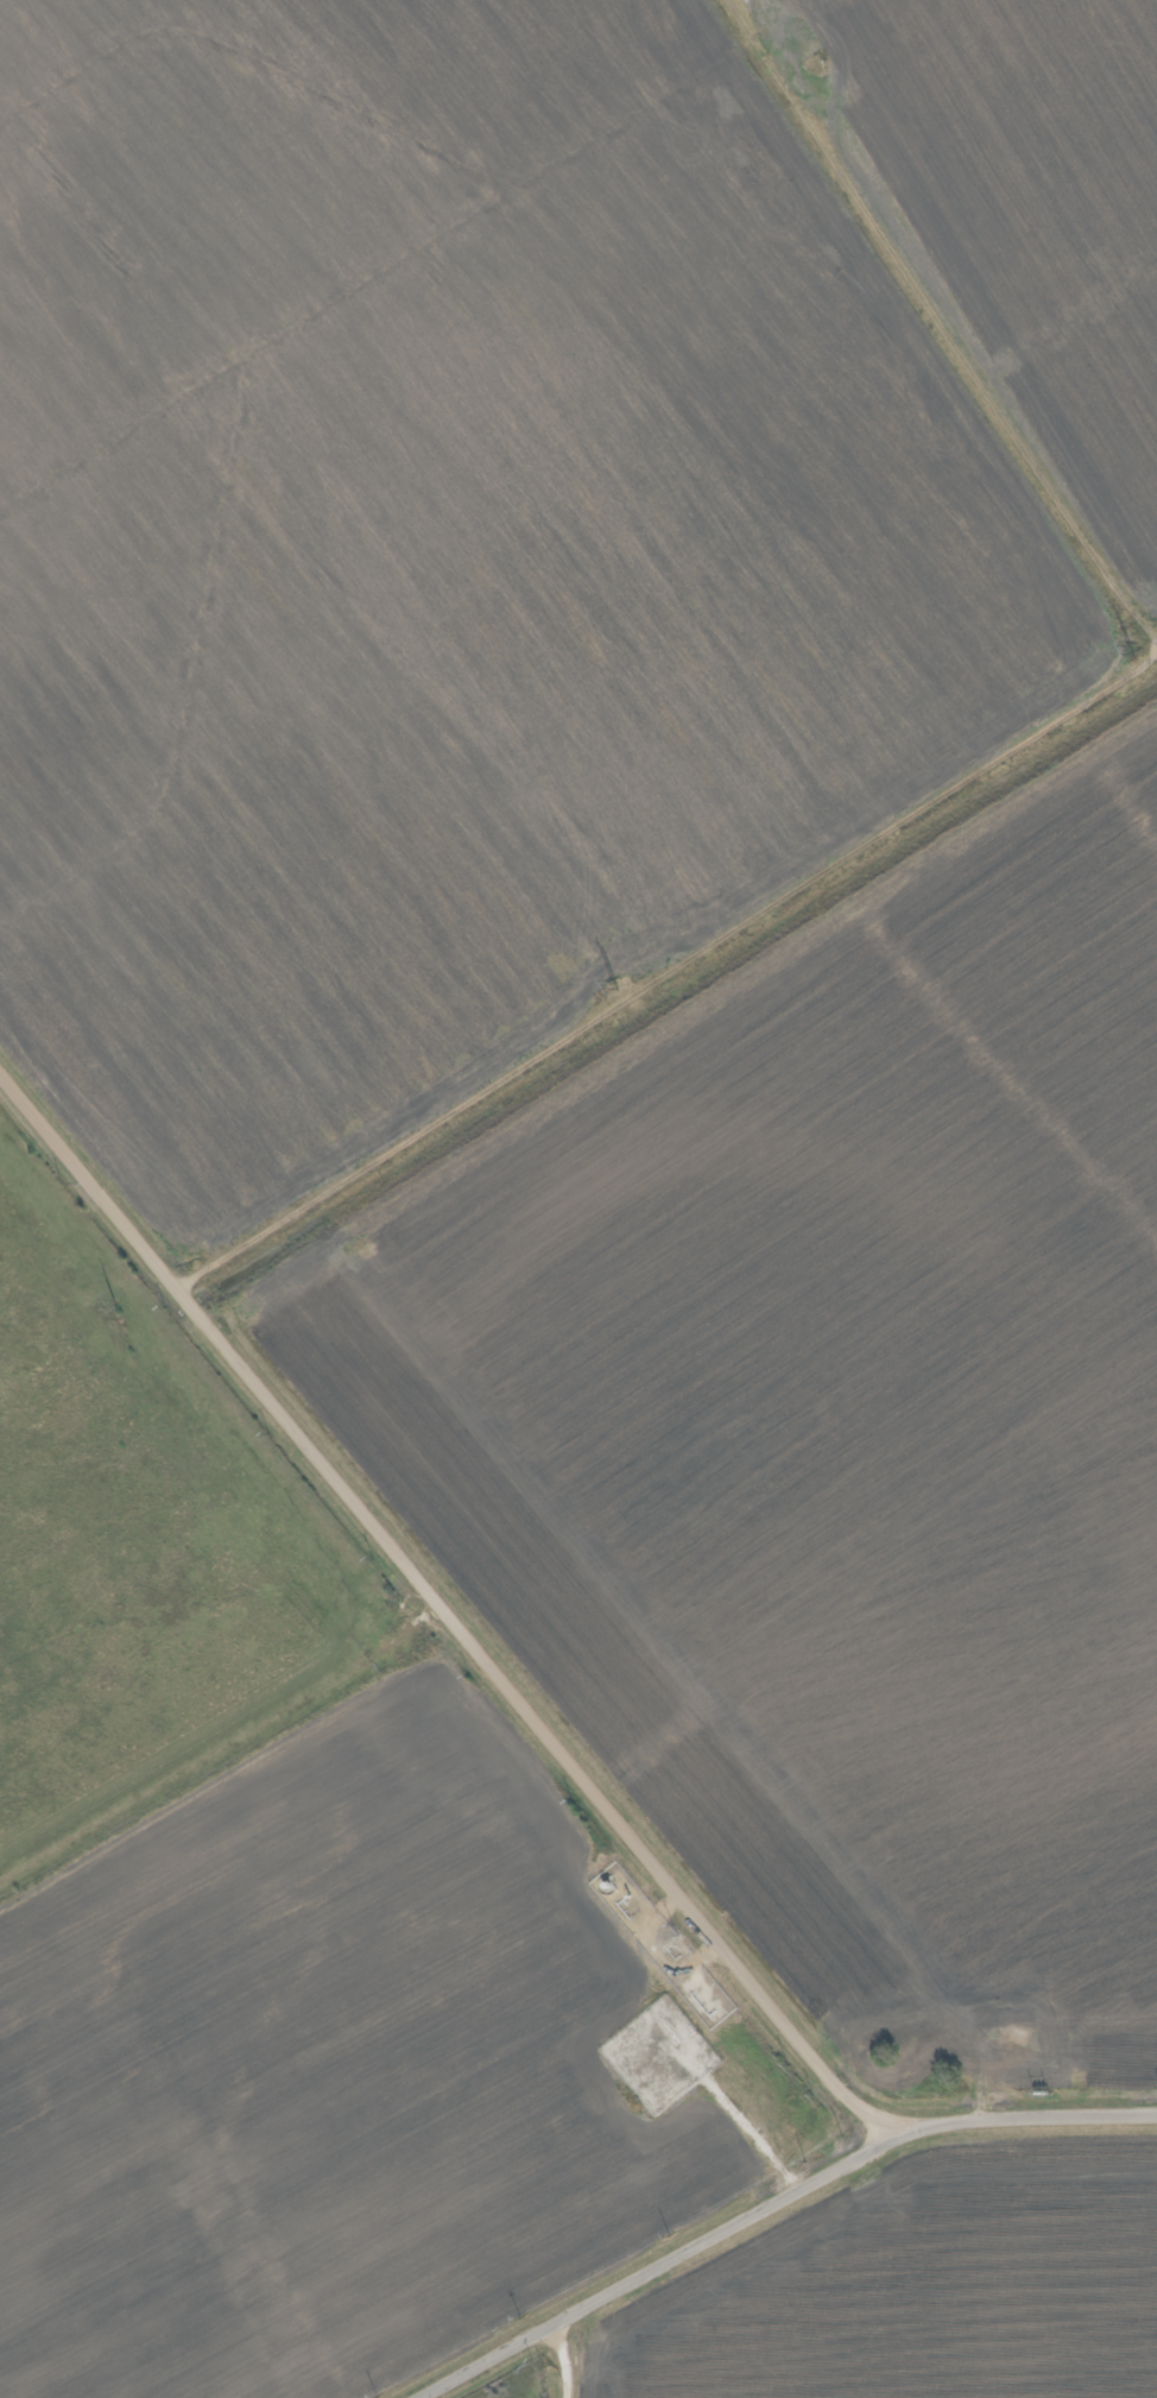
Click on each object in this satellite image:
power tower: (1130, 652)
power tower: (617, 985)
power tower: (175, 1264)
road: (443, 1604)
road: (770, 2202)
road: (536, 2369)

